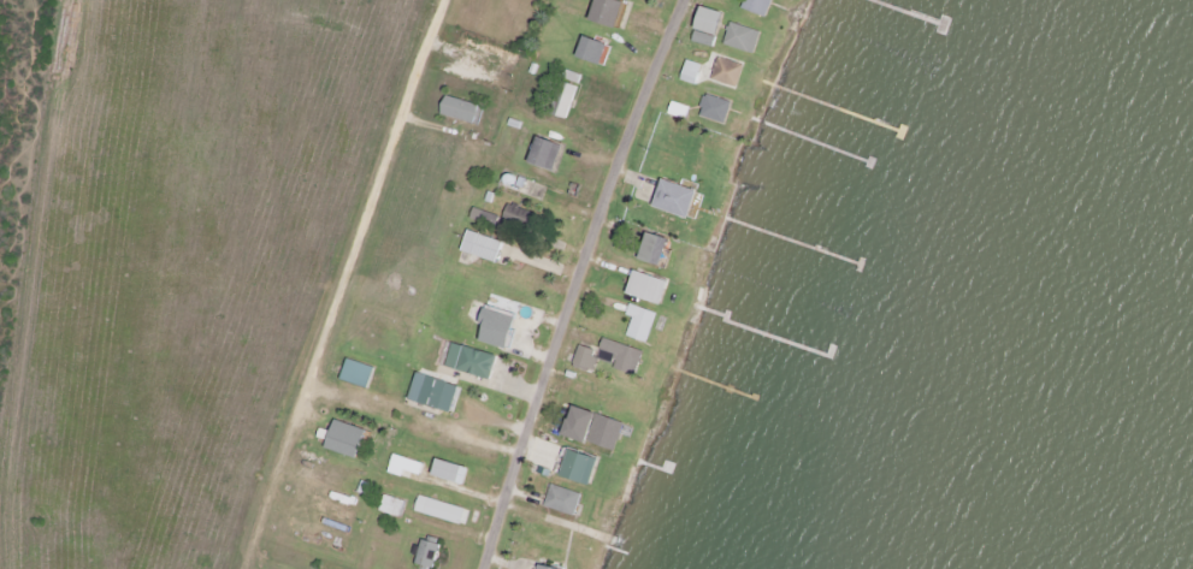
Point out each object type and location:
building: (758, 6)
pier: (904, 11)
building: (612, 12)
building: (711, 22)
building: (743, 38)
building: (705, 40)
building: (596, 51)
building: (728, 72)
building: (692, 73)
building: (568, 100)
pier: (835, 108)
building: (462, 109)
building: (716, 109)
pier: (809, 140)
building: (548, 153)
building: (678, 198)
building: (519, 218)
pier: (792, 242)
building: (484, 247)
building: (656, 249)
road: (575, 281)
road: (343, 284)
building: (650, 288)
building: (642, 324)
building: (500, 327)
pier: (762, 333)
building: (622, 356)
building: (586, 358)
building: (473, 361)
building: (359, 373)
pier: (715, 384)
building: (436, 392)
building: (596, 427)
building: (348, 439)
building: (406, 466)
building: (583, 466)
pier: (655, 468)
building: (454, 470)
building: (563, 500)
building: (394, 505)
building: (442, 510)
pier: (618, 551)
building: (430, 553)
building: (550, 567)

